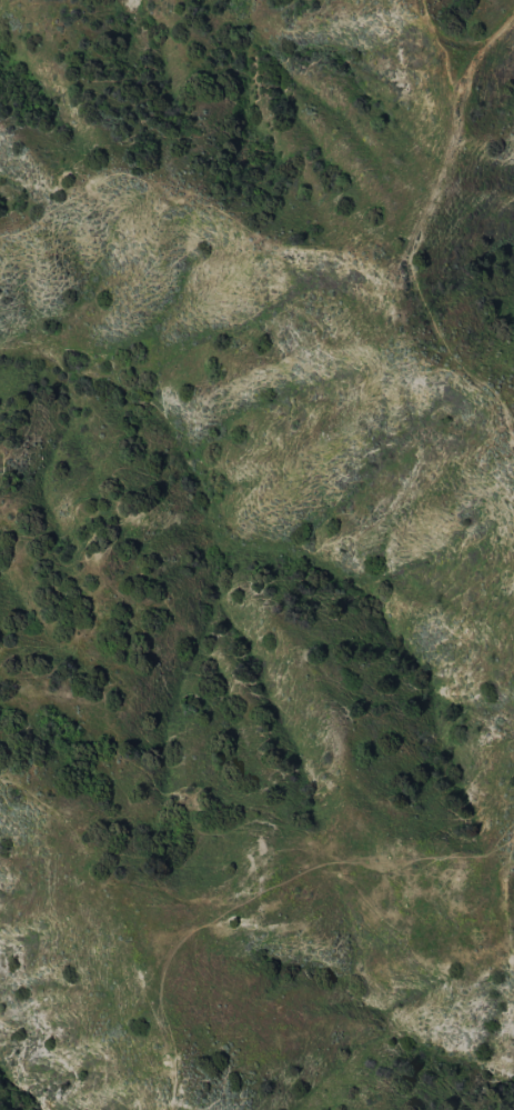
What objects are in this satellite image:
road: (425, 222)
road: (254, 866)

